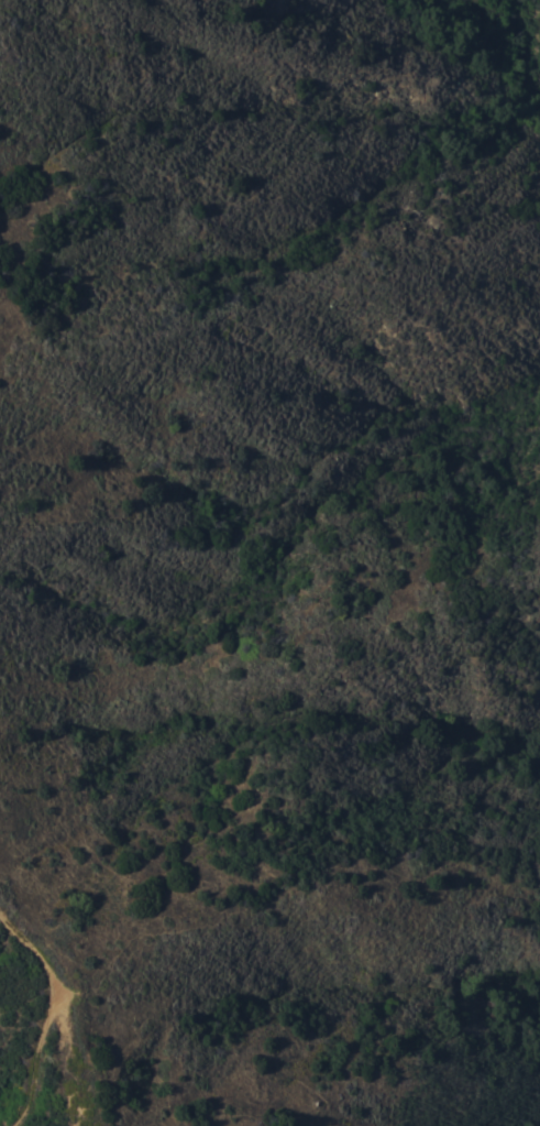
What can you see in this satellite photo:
road: (51, 1013)

